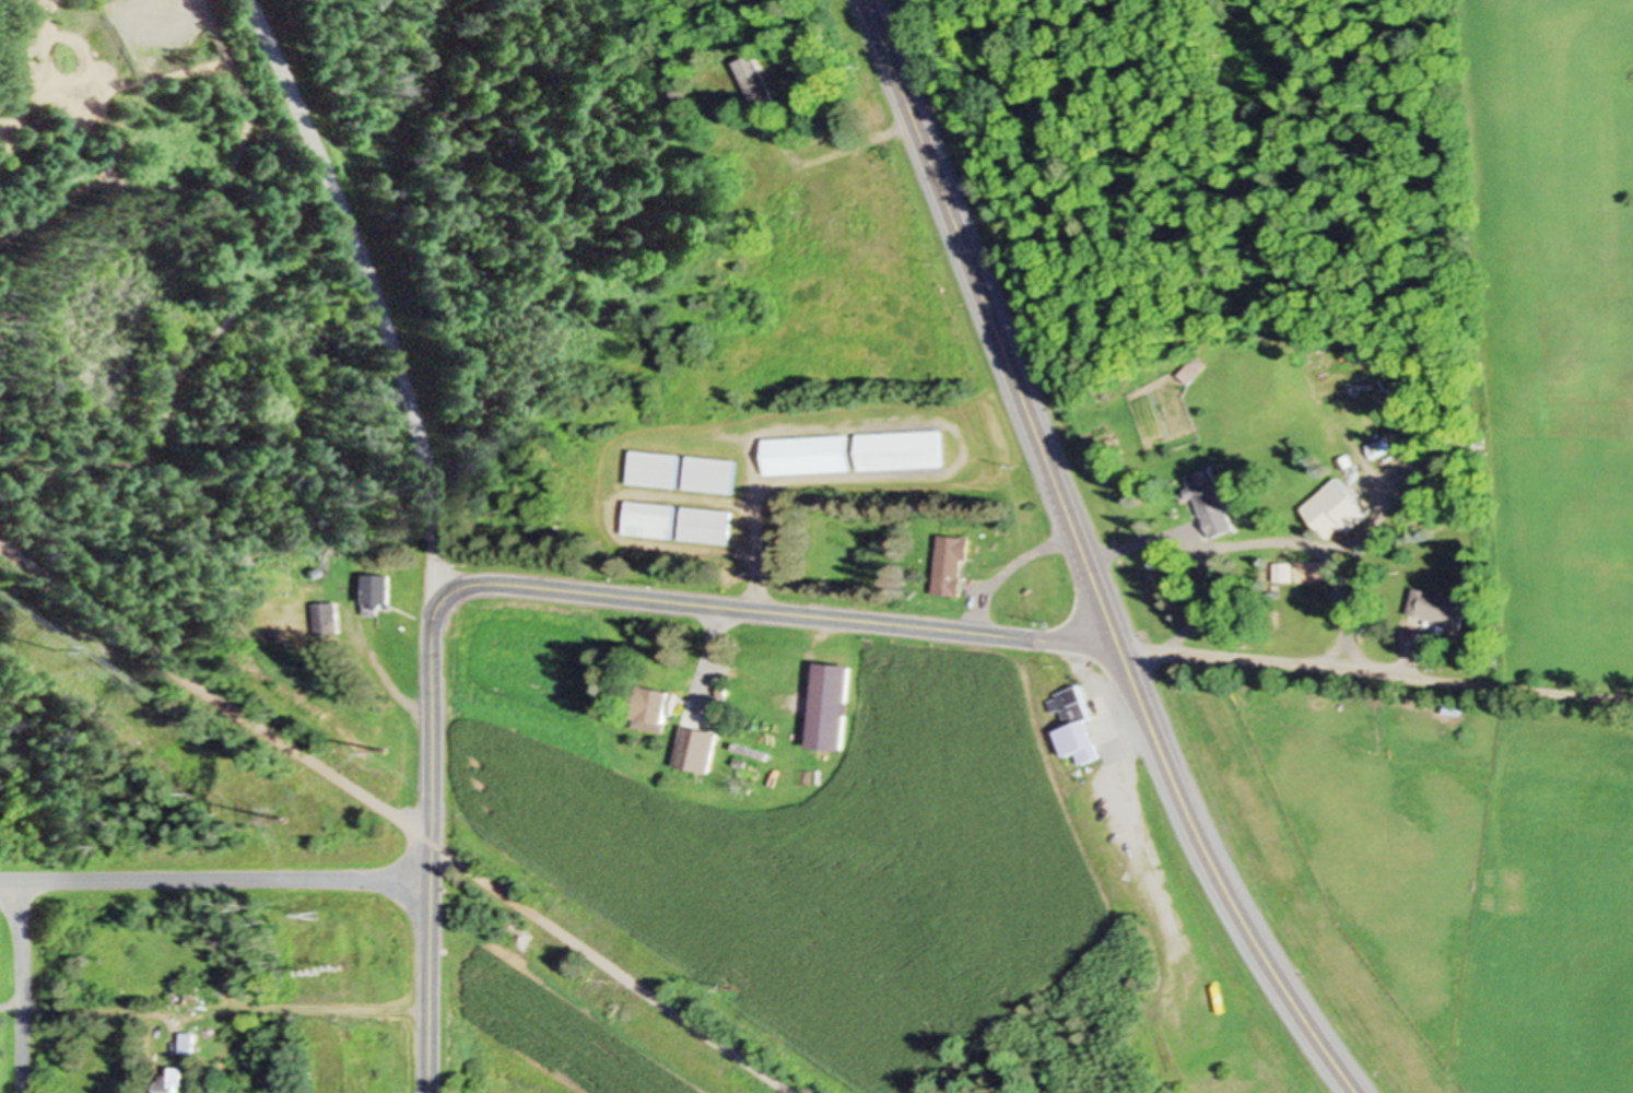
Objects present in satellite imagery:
building: (756, 82)
road: (832, 148)
building: (795, 209)
road: (373, 280)
park: (184, 310)
building: (1195, 366)
building: (901, 449)
building: (808, 454)
building: (656, 468)
building: (713, 473)
building: (1211, 501)
building: (1337, 508)
building: (650, 519)
building: (707, 525)
road: (756, 537)
road: (1197, 543)
road: (1319, 549)
road: (1083, 561)
building: (952, 565)
road: (1009, 568)
road: (520, 586)
building: (377, 595)
building: (1437, 607)
road: (710, 645)
power tower: (44, 649)
road: (1409, 656)
road: (1372, 669)
road: (380, 678)
road: (215, 694)
building: (657, 704)
building: (834, 706)
building: (1078, 725)
power tower: (390, 752)
park: (143, 773)
power tower: (292, 818)
road: (215, 878)
road: (614, 967)
road: (16, 985)
power tower: (733, 985)
building: (186, 990)
road: (215, 1010)
building: (173, 1080)

